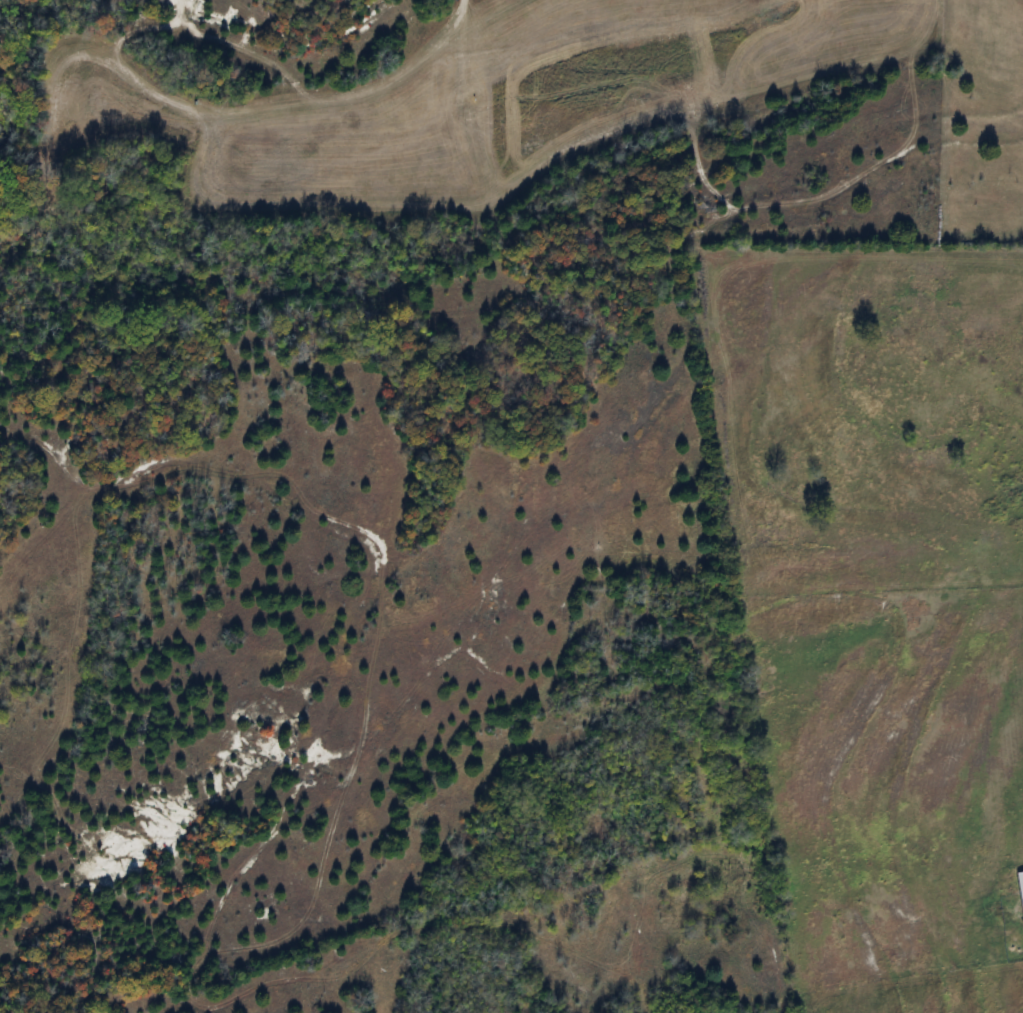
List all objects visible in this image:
building: (1020, 890)

